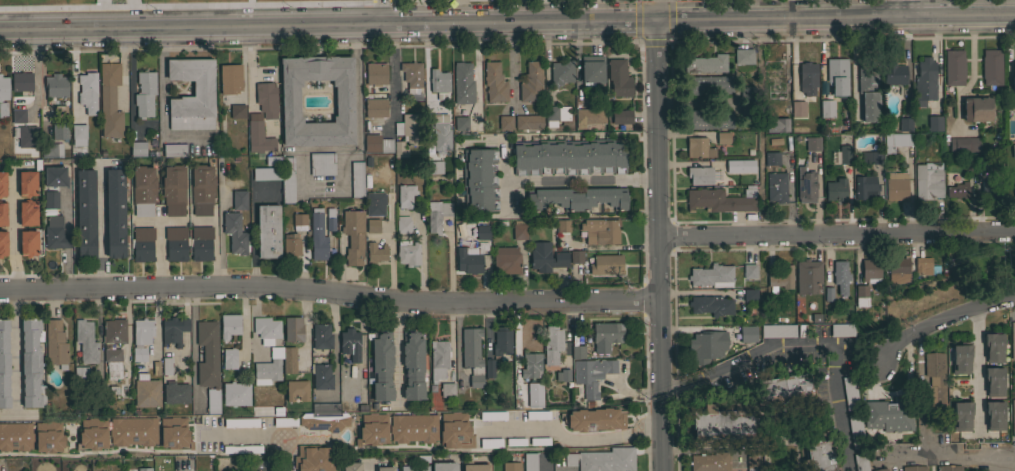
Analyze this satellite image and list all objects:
road: (903, 8)
road: (787, 9)
road: (380, 12)
road: (719, 19)
road: (368, 24)
road: (386, 24)
road: (408, 24)
road: (214, 27)
road: (53, 29)
road: (17, 30)
building: (743, 56)
building: (705, 63)
road: (854, 65)
road: (426, 67)
building: (954, 67)
building: (991, 67)
road: (73, 69)
building: (591, 70)
building: (376, 73)
building: (560, 73)
building: (893, 73)
road: (478, 74)
road: (34, 76)
road: (393, 76)
building: (411, 76)
building: (772, 76)
building: (837, 76)
building: (230, 78)
building: (618, 78)
building: (807, 78)
building: (925, 80)
building: (22, 82)
building: (494, 82)
building: (531, 82)
road: (129, 83)
building: (438, 83)
building: (462, 83)
building: (1013, 83)
building: (708, 84)
building: (56, 85)
building: (3, 87)
building: (203, 88)
building: (868, 91)
building: (87, 92)
building: (746, 92)
building: (144, 94)
road: (162, 99)
building: (266, 99)
building: (109, 100)
road: (695, 100)
building: (289, 101)
building: (375, 108)
building: (826, 108)
building: (3, 109)
road: (357, 109)
building: (798, 109)
building: (976, 109)
building: (747, 110)
building: (237, 111)
building: (18, 113)
building: (556, 114)
building: (590, 115)
building: (621, 116)
building: (405, 118)
building: (708, 119)
building: (528, 121)
building: (505, 122)
building: (461, 123)
building: (934, 123)
building: (905, 124)
building: (773, 126)
building: (874, 128)
building: (59, 130)
building: (78, 131)
building: (406, 134)
building: (25, 135)
building: (258, 135)
building: (441, 137)
building: (722, 137)
building: (896, 140)
building: (812, 143)
building: (377, 144)
building: (963, 144)
building: (698, 147)
building: (137, 149)
building: (52, 150)
building: (174, 150)
building: (1013, 150)
building: (845, 154)
building: (569, 156)
building: (772, 157)
building: (871, 157)
building: (272, 160)
building: (321, 163)
building: (980, 164)
building: (732, 166)
building: (434, 167)
building: (266, 173)
building: (700, 175)
building: (54, 176)
building: (357, 179)
road: (581, 179)
building: (287, 180)
building: (479, 180)
building: (928, 180)
building: (2, 183)
building: (27, 183)
building: (805, 185)
building: (896, 185)
building: (955, 186)
building: (1014, 186)
building: (776, 187)
building: (865, 187)
building: (202, 189)
building: (836, 189)
building: (991, 189)
building: (173, 190)
building: (143, 191)
building: (406, 195)
building: (577, 198)
building: (51, 199)
building: (238, 199)
building: (720, 199)
building: (375, 203)
building: (27, 212)
building: (2, 213)
building: (85, 213)
building: (115, 213)
building: (436, 215)
building: (329, 219)
building: (299, 222)
building: (402, 224)
building: (372, 226)
building: (562, 226)
building: (519, 230)
building: (267, 231)
building: (600, 231)
road: (99, 232)
building: (482, 232)
building: (55, 233)
building: (235, 233)
road: (837, 233)
building: (353, 235)
road: (11, 236)
building: (317, 237)
building: (2, 243)
building: (28, 243)
building: (143, 243)
building: (176, 243)
building: (201, 243)
building: (291, 245)
road: (659, 245)
road: (159, 247)
road: (391, 250)
building: (375, 253)
building: (408, 253)
building: (576, 256)
building: (545, 257)
building: (506, 259)
building: (469, 261)
building: (605, 264)
building: (922, 265)
building: (870, 270)
building: (898, 270)
building: (749, 271)
building: (711, 276)
building: (808, 276)
building: (840, 276)
building: (779, 279)
park: (963, 287)
building: (749, 295)
building: (825, 295)
building: (861, 295)
road: (330, 299)
building: (710, 305)
road: (941, 318)
building: (229, 325)
building: (266, 327)
building: (293, 329)
building: (841, 329)
building: (174, 330)
building: (777, 330)
building: (114, 331)
building: (747, 333)
building: (606, 335)
building: (321, 336)
building: (141, 337)
building: (501, 340)
building: (1012, 340)
building: (85, 341)
building: (55, 344)
building: (349, 344)
building: (552, 344)
road: (804, 344)
building: (707, 345)
building: (993, 347)
building: (577, 351)
building: (207, 353)
road: (15, 355)
building: (472, 355)
building: (229, 358)
building: (438, 359)
building: (960, 359)
building: (289, 360)
building: (112, 362)
building: (167, 362)
building: (4, 364)
building: (31, 364)
building: (412, 365)
building: (381, 366)
road: (976, 366)
building: (488, 368)
building: (266, 371)
building: (528, 371)
building: (80, 372)
building: (562, 375)
building: (321, 376)
building: (591, 376)
building: (934, 381)
building: (993, 381)
building: (783, 389)
building: (296, 390)
building: (447, 390)
building: (146, 391)
building: (176, 392)
building: (849, 392)
road: (918, 392)
building: (235, 394)
building: (530, 396)
building: (212, 401)
building: (324, 408)
building: (889, 414)
building: (493, 415)
building: (537, 415)
building: (994, 415)
building: (961, 416)
building: (1013, 418)
building: (594, 419)
building: (323, 421)
building: (240, 422)
building: (284, 422)
building: (723, 422)
building: (373, 428)
building: (413, 428)
building: (132, 431)
building: (455, 431)
building: (855, 431)
building: (174, 433)
building: (92, 434)
road: (244, 435)
road: (570, 435)
building: (15, 436)
building: (49, 437)
building: (491, 443)
building: (241, 448)
road: (284, 453)
road: (954, 456)
building: (818, 457)
building: (312, 458)
building: (420, 458)
building: (602, 460)
building: (753, 460)
building: (860, 461)
building: (529, 462)
building: (710, 462)
building: (258, 466)
building: (351, 466)
building: (443, 466)
building: (511, 466)
building: (475, 467)
building: (385, 468)
building: (414, 468)
building: (914, 468)
building: (948, 468)
building: (144, 469)
road: (371, 469)
road: (182, 470)
building: (881, 470)

